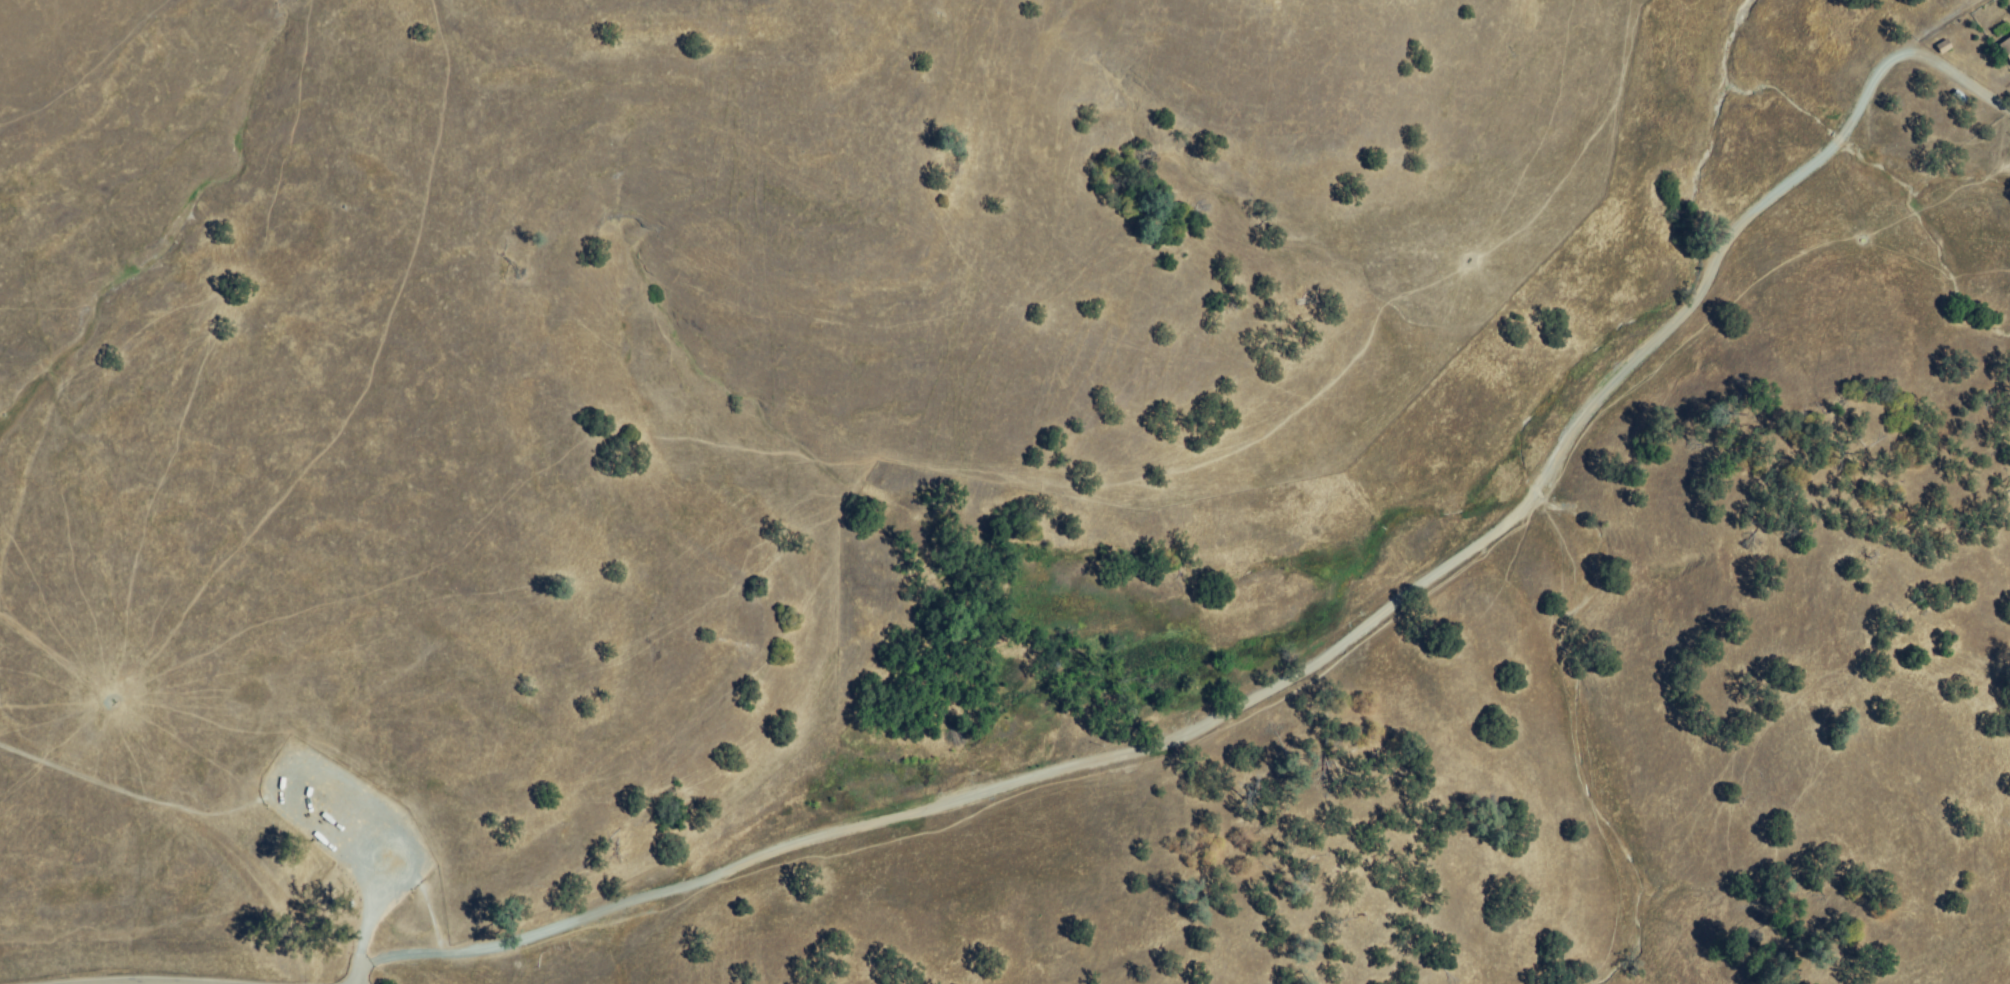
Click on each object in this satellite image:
building: (2006, 48)
road: (1098, 759)
parking lot: (356, 951)

